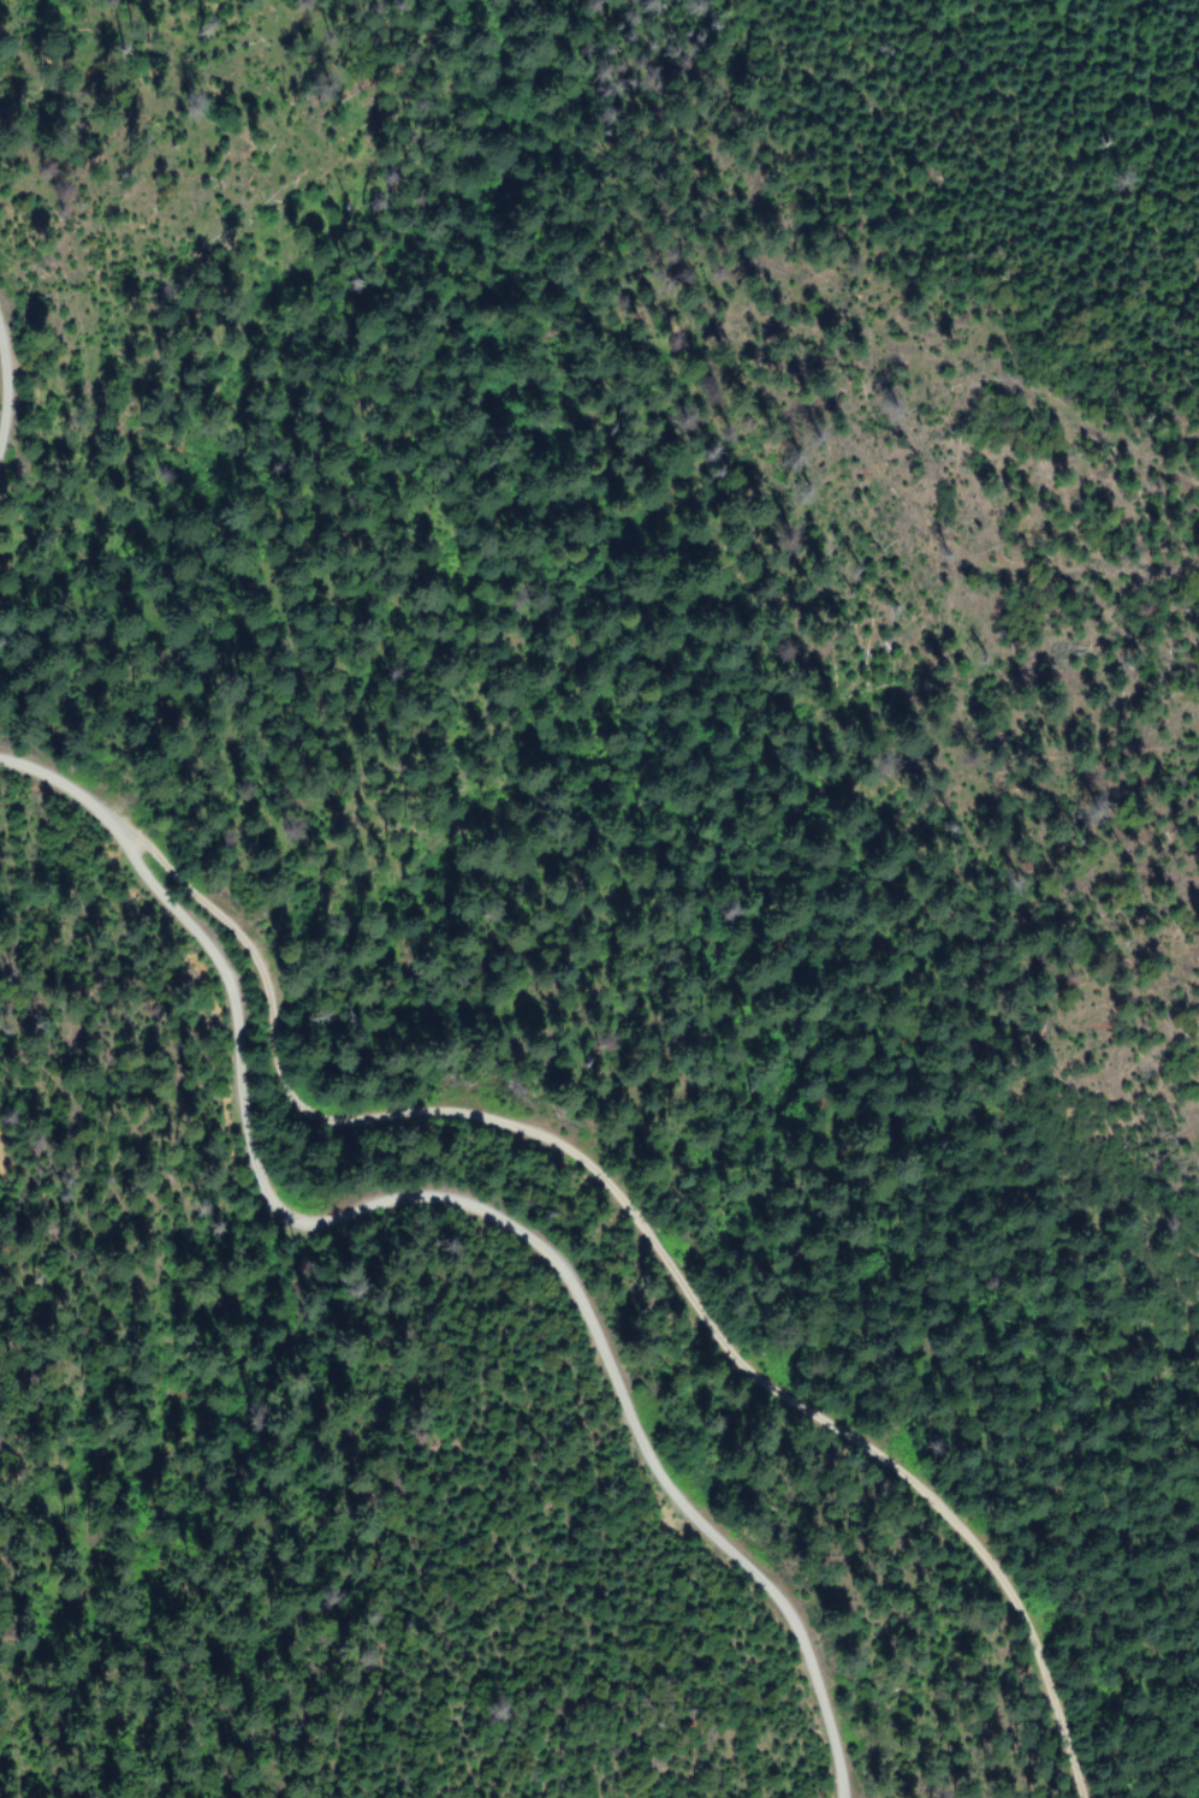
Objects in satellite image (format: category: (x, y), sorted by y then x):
road: (2, 411)
road: (447, 1204)

